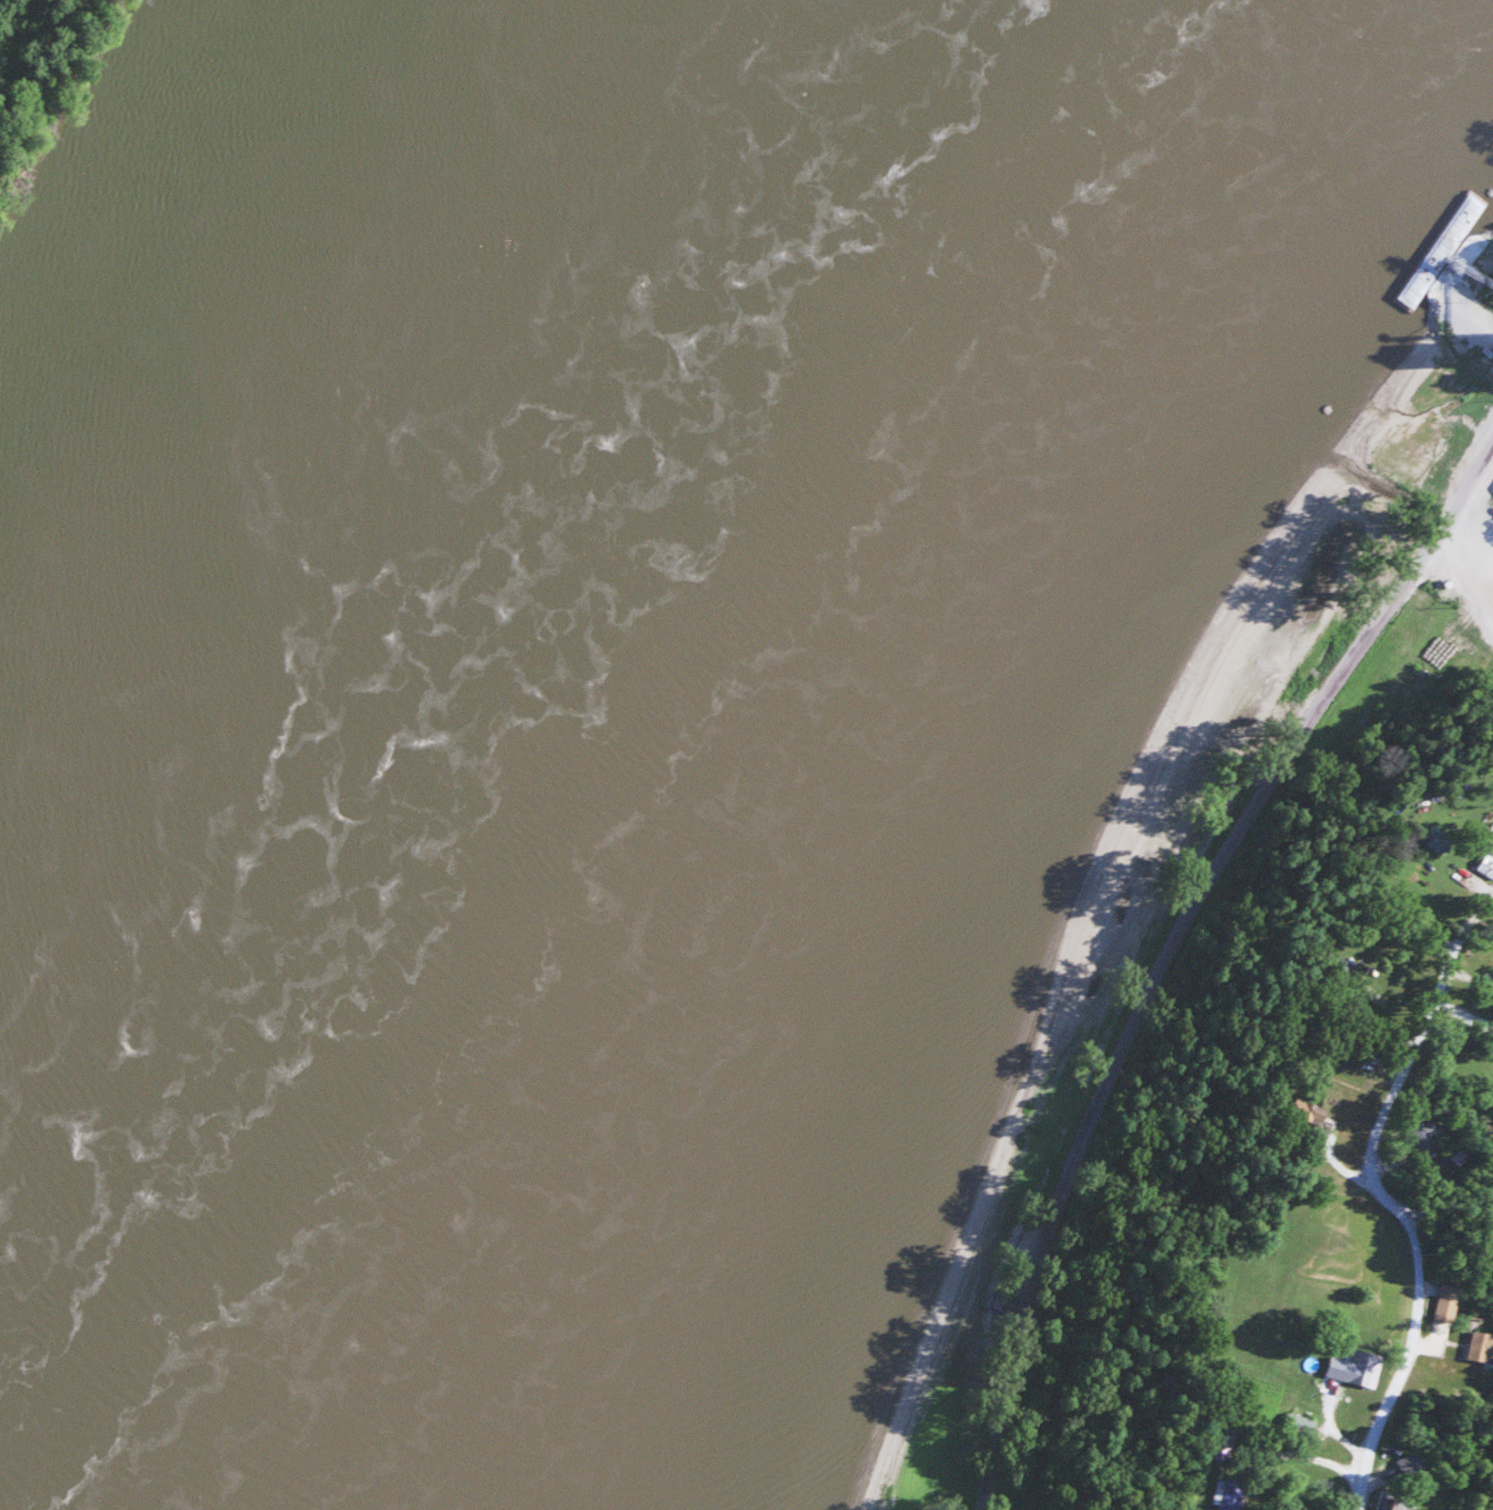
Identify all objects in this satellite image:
road: (1481, 333)
road: (1458, 591)
river: (532, 739)
building: (1438, 838)
building: (1486, 865)
road: (1171, 939)
road: (1394, 1077)
building: (1309, 1110)
building: (1425, 1131)
road: (1446, 1205)
building: (1447, 1300)
building: (1480, 1346)
building: (1356, 1357)
road: (1402, 1362)
building: (1299, 1423)
building: (1407, 1463)
building: (1208, 1492)
building: (1233, 1494)
building: (1390, 1501)

